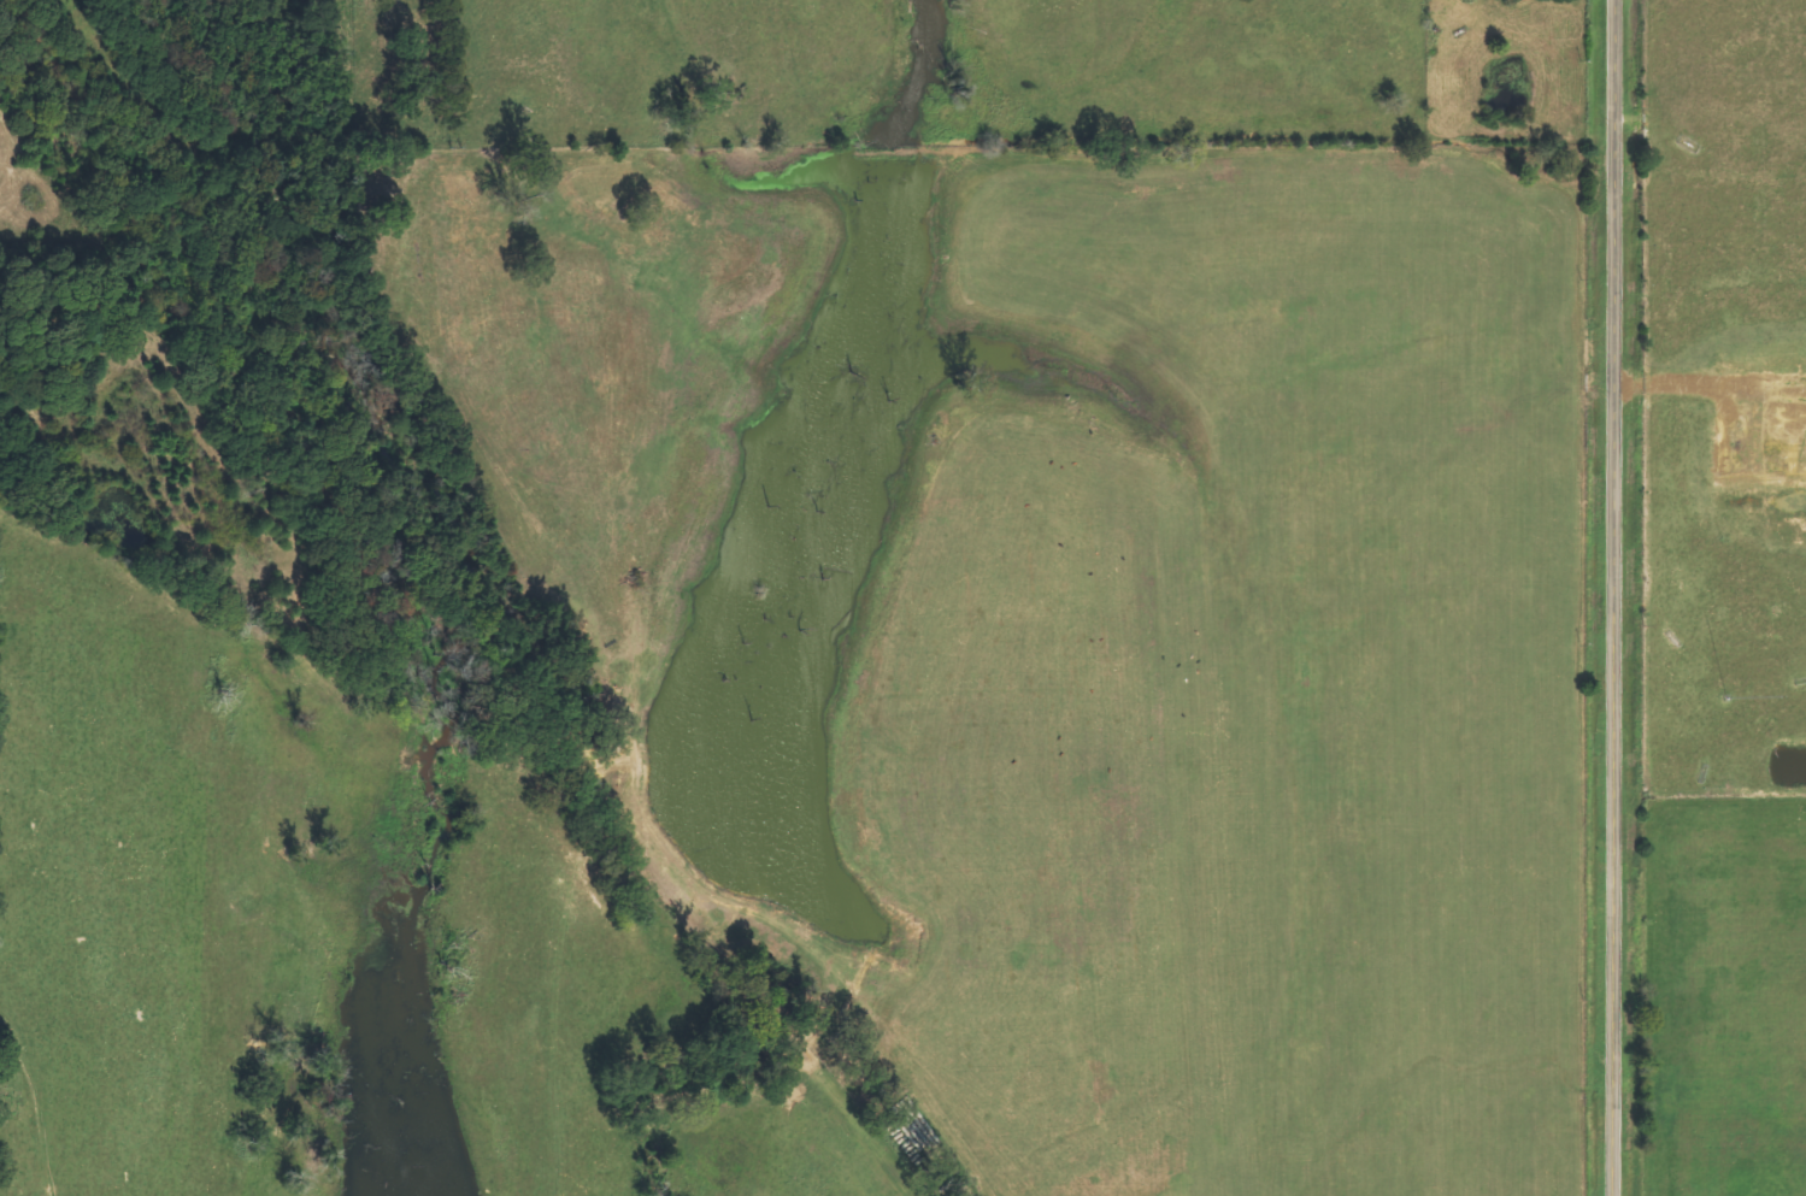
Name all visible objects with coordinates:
road: (1614, 597)

